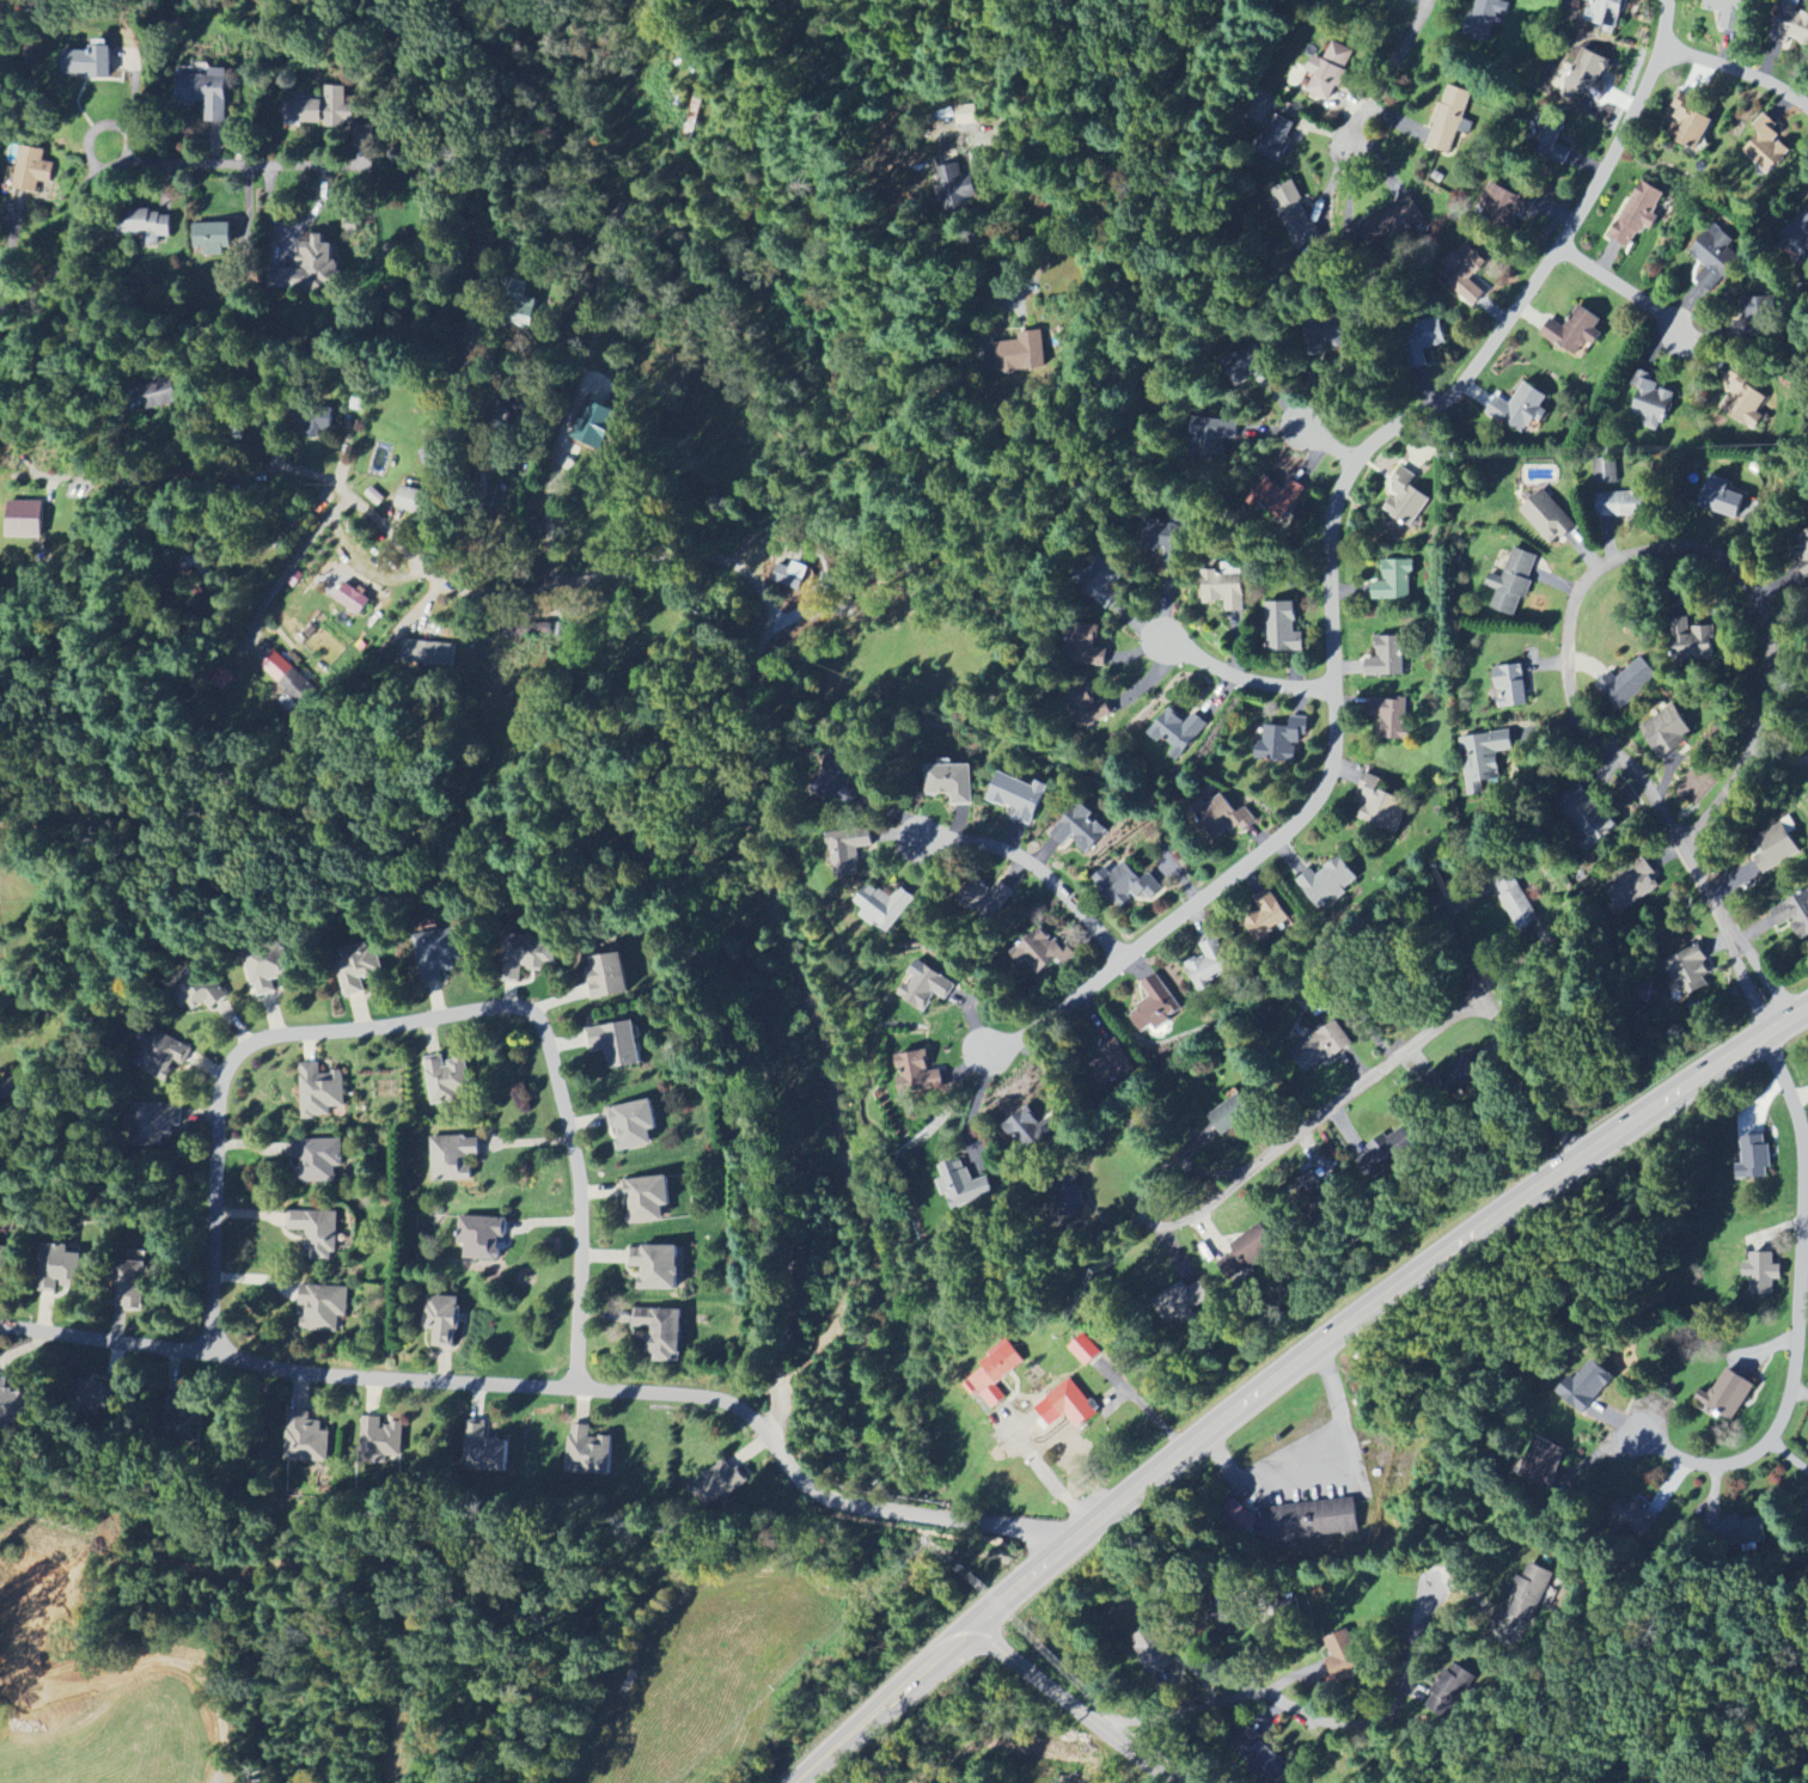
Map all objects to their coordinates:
building: (1605, 12)
building: (1485, 19)
building: (1789, 26)
building: (87, 61)
road: (1009, 66)
road: (1739, 67)
road: (1386, 71)
building: (1326, 73)
building: (1578, 75)
building: (204, 93)
building: (320, 110)
building: (966, 115)
building: (1449, 120)
building: (1688, 123)
building: (1270, 127)
building: (1549, 140)
building: (1766, 146)
road: (169, 164)
building: (32, 170)
building: (1505, 204)
building: (1294, 215)
building: (1637, 215)
building: (1389, 225)
building: (143, 226)
building: (1795, 237)
building: (212, 238)
road: (1000, 256)
building: (1714, 257)
building: (306, 267)
building: (1465, 275)
road: (1624, 289)
building: (524, 301)
building: (1752, 317)
building: (1575, 334)
building: (1423, 340)
building: (1026, 353)
building: (1250, 368)
building: (1651, 405)
building: (1743, 405)
building: (1519, 409)
road: (555, 436)
road: (1326, 444)
building: (1605, 471)
building: (1277, 496)
building: (1721, 497)
building: (1404, 500)
building: (416, 501)
building: (1620, 505)
building: (1547, 518)
building: (24, 519)
road: (1332, 554)
building: (1802, 554)
building: (789, 578)
road: (798, 580)
building: (1394, 581)
building: (1511, 582)
building: (1102, 584)
building: (1223, 588)
building: (347, 597)
road: (1755, 598)
building: (1281, 629)
building: (326, 641)
building: (1088, 646)
building: (1693, 646)
building: (433, 651)
building: (1386, 658)
building: (286, 676)
road: (1245, 678)
building: (1627, 684)
building: (1510, 686)
building: (1092, 706)
building: (1391, 719)
building: (1666, 731)
building: (1177, 732)
building: (1279, 740)
building: (1483, 758)
building: (951, 783)
road: (661, 789)
building: (1018, 796)
building: (1381, 806)
building: (1220, 817)
building: (1584, 817)
building: (1080, 829)
building: (1772, 848)
building: (849, 851)
road: (1037, 866)
building: (1327, 883)
building: (1126, 885)
building: (1632, 886)
building: (988, 898)
building: (1515, 902)
building: (884, 906)
building: (1795, 915)
building: (1266, 917)
building: (1042, 951)
building: (439, 955)
building: (1210, 965)
building: (359, 969)
building: (1688, 971)
building: (265, 972)
building: (607, 977)
building: (924, 985)
building: (200, 989)
building: (1155, 1006)
road: (444, 1028)
building: (616, 1044)
road: (1395, 1055)
building: (164, 1056)
building: (1111, 1063)
building: (916, 1074)
building: (1458, 1076)
building: (445, 1079)
building: (10, 1091)
building: (319, 1092)
building: (1228, 1117)
building: (154, 1123)
building: (633, 1125)
building: (1034, 1130)
building: (1385, 1154)
building: (452, 1158)
building: (317, 1160)
building: (1754, 1160)
building: (963, 1185)
building: (1311, 1187)
building: (646, 1199)
building: (316, 1233)
building: (481, 1239)
building: (1246, 1253)
building: (2, 1259)
building: (57, 1268)
building: (655, 1268)
building: (1763, 1274)
building: (128, 1286)
building: (1180, 1302)
building: (325, 1309)
road: (1798, 1318)
building: (444, 1320)
building: (661, 1333)
building: (1083, 1350)
road: (1288, 1369)
building: (994, 1374)
road: (395, 1387)
building: (1586, 1387)
building: (1727, 1396)
building: (100, 1397)
building: (1069, 1405)
building: (11, 1406)
road: (1142, 1408)
building: (306, 1441)
building: (378, 1443)
building: (484, 1449)
building: (588, 1453)
road: (1295, 1455)
building: (1543, 1463)
road: (1046, 1476)
building: (716, 1486)
building: (1806, 1512)
building: (1632, 1516)
building: (1295, 1521)
building: (1743, 1532)
building: (1527, 1599)
building: (1150, 1650)
building: (1342, 1656)
building: (1449, 1692)
road: (1071, 1705)
road: (1340, 1733)
building: (1260, 1755)

